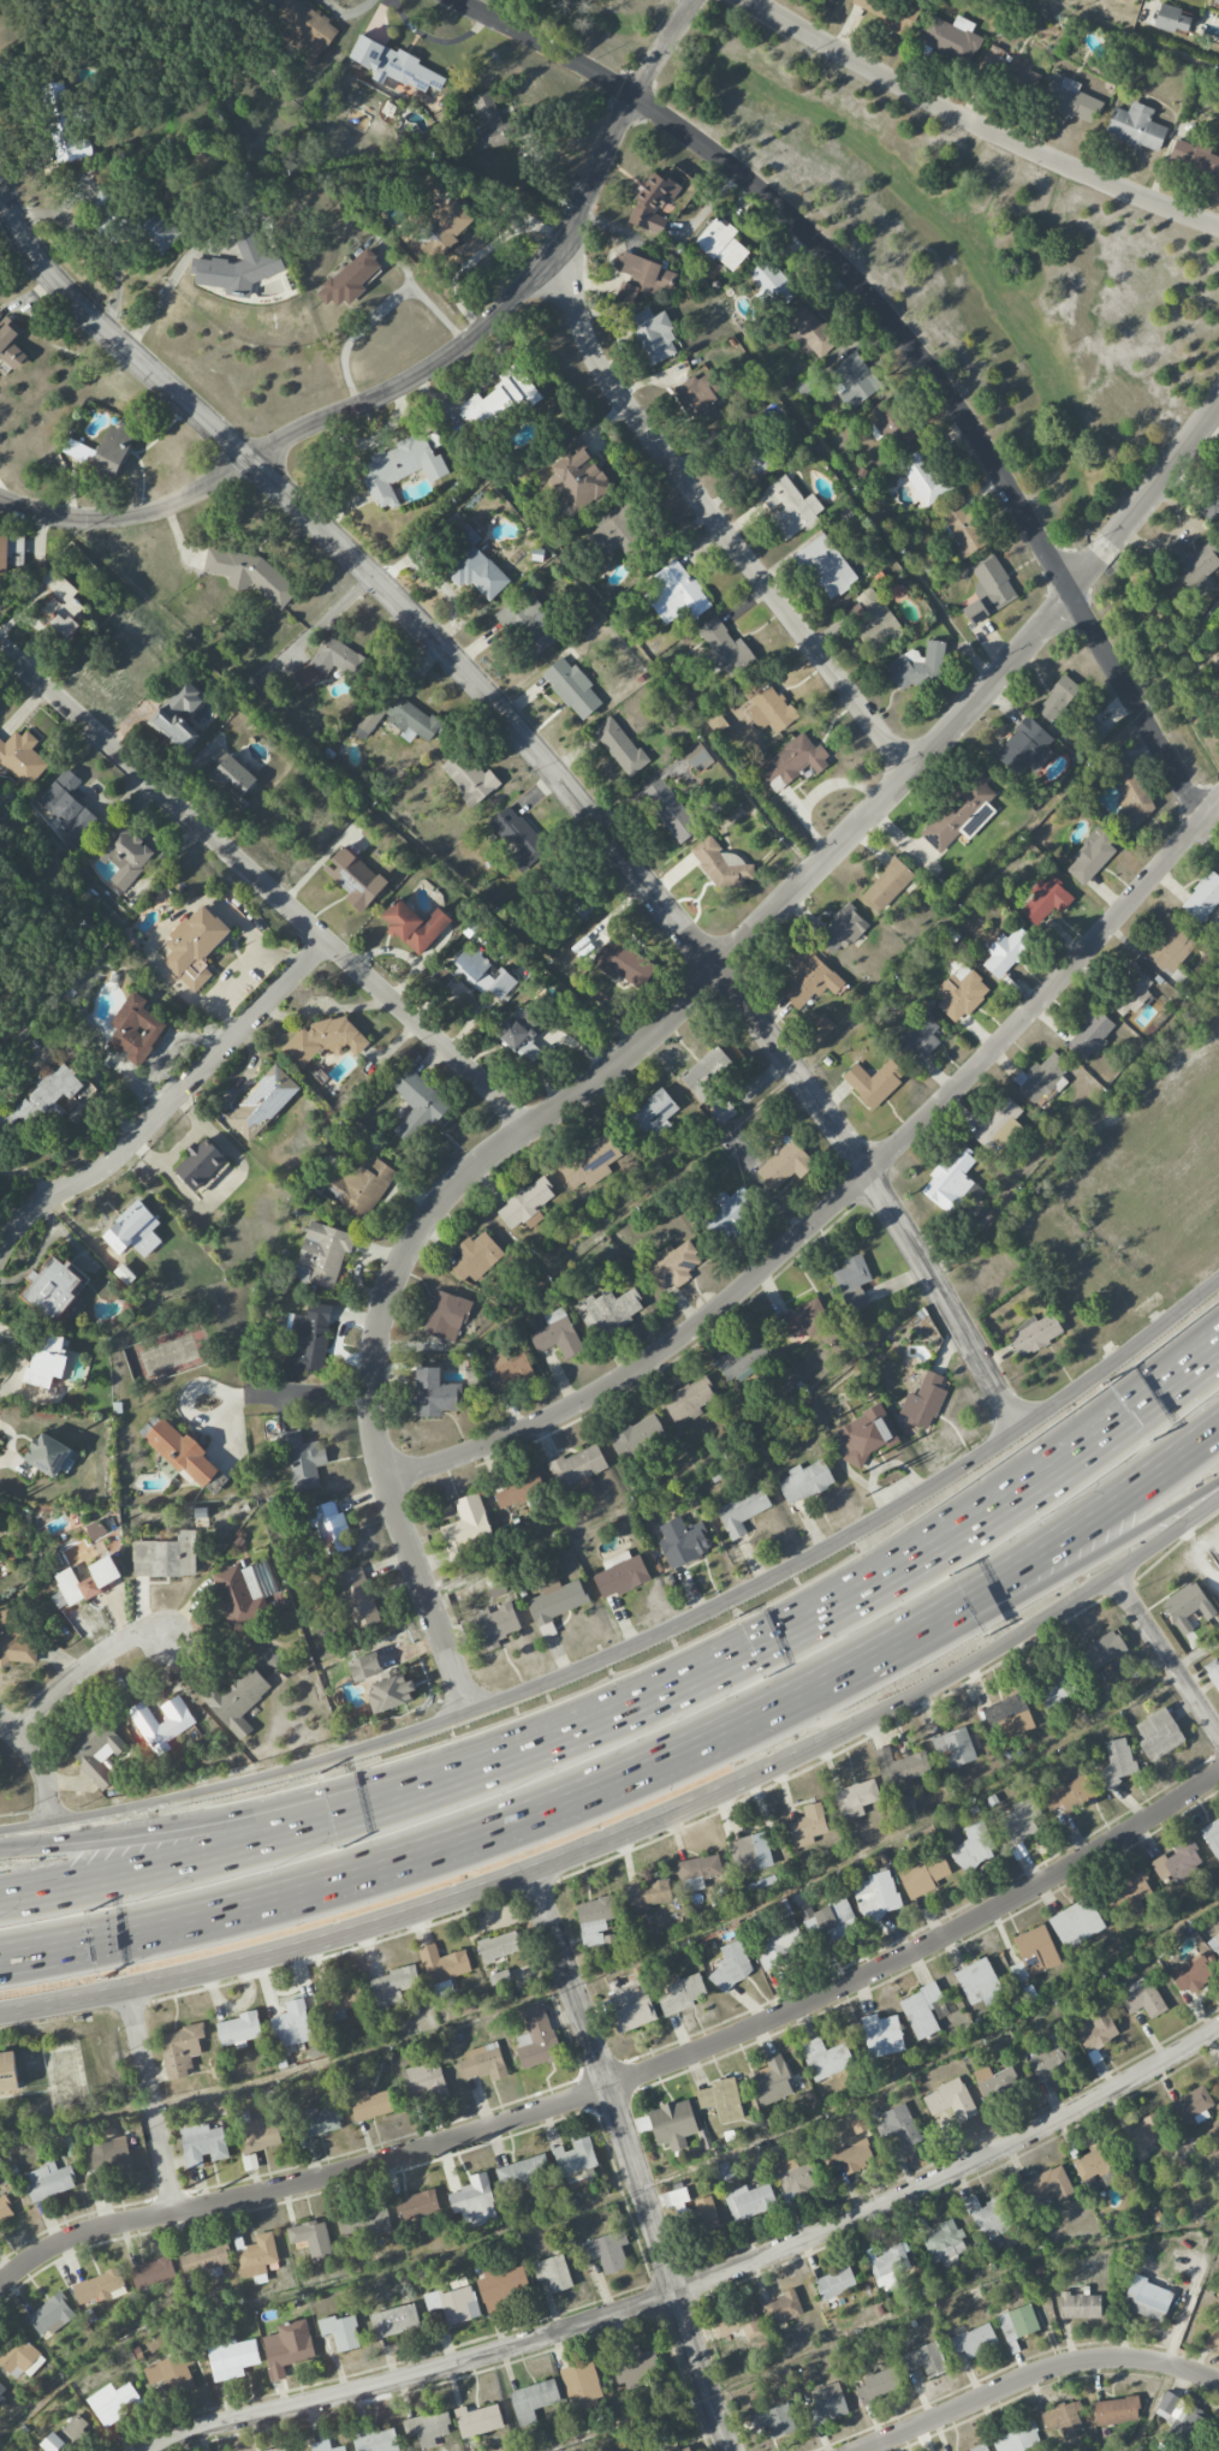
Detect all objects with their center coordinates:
building: (1172, 18)
building: (305, 26)
building: (950, 37)
building: (393, 66)
building: (1007, 69)
building: (1071, 100)
building: (489, 124)
road: (980, 125)
building: (61, 126)
building: (1135, 127)
building: (1195, 157)
building: (653, 203)
building: (107, 216)
building: (447, 225)
building: (156, 233)
building: (721, 244)
building: (238, 266)
building: (642, 278)
building: (350, 279)
road: (165, 288)
road: (422, 299)
building: (810, 332)
building: (653, 334)
road: (352, 335)
road: (903, 335)
building: (10, 344)
road: (426, 371)
building: (854, 381)
building: (807, 385)
building: (698, 399)
building: (496, 401)
building: (893, 426)
building: (113, 450)
building: (78, 451)
building: (757, 459)
building: (403, 466)
building: (577, 476)
building: (926, 478)
road: (704, 506)
building: (790, 507)
building: (963, 529)
building: (612, 531)
building: (1191, 564)
building: (475, 566)
building: (825, 566)
building: (251, 576)
building: (989, 591)
building: (676, 594)
building: (60, 603)
building: (873, 619)
building: (529, 625)
building: (724, 649)
building: (328, 661)
building: (916, 666)
building: (1218, 666)
building: (572, 688)
building: (1057, 698)
building: (766, 704)
building: (177, 716)
building: (398, 719)
building: (1094, 730)
building: (619, 745)
building: (1025, 748)
building: (697, 756)
building: (20, 757)
building: (791, 761)
road: (554, 769)
building: (227, 772)
building: (469, 777)
building: (1126, 790)
building: (66, 805)
building: (670, 810)
building: (961, 813)
building: (517, 837)
building: (124, 855)
building: (1090, 857)
building: (353, 878)
building: (888, 884)
road: (264, 887)
building: (1202, 897)
building: (1046, 900)
building: (582, 905)
building: (414, 926)
building: (842, 930)
building: (194, 946)
building: (1171, 946)
building: (1006, 951)
building: (624, 963)
building: (482, 974)
building: (808, 978)
building: (1130, 992)
building: (959, 993)
road: (661, 1025)
building: (821, 1025)
building: (135, 1029)
building: (1089, 1034)
building: (522, 1035)
building: (917, 1036)
building: (323, 1040)
building: (706, 1075)
building: (1042, 1076)
building: (874, 1082)
building: (42, 1100)
building: (262, 1102)
road: (170, 1105)
building: (417, 1106)
building: (649, 1117)
building: (998, 1124)
building: (589, 1162)
building: (200, 1164)
building: (785, 1165)
building: (950, 1180)
building: (359, 1184)
road: (845, 1195)
building: (525, 1204)
building: (730, 1212)
building: (133, 1231)
building: (325, 1253)
building: (476, 1256)
building: (673, 1265)
building: (852, 1281)
building: (52, 1289)
building: (608, 1311)
building: (446, 1316)
building: (804, 1319)
building: (1042, 1331)
building: (555, 1334)
building: (307, 1340)
building: (743, 1358)
building: (46, 1361)
road: (1181, 1367)
building: (509, 1370)
building: (434, 1393)
road: (239, 1396)
building: (688, 1399)
building: (928, 1400)
street lamp: (1197, 1404)
road: (222, 1430)
building: (873, 1433)
building: (636, 1435)
building: (186, 1446)
building: (48, 1454)
building: (309, 1458)
building: (576, 1465)
building: (810, 1477)
street lamp: (1200, 1480)
building: (519, 1491)
building: (749, 1506)
street lamp: (1041, 1516)
road: (868, 1523)
building: (334, 1525)
building: (466, 1525)
building: (95, 1530)
building: (686, 1537)
building: (172, 1553)
road: (1025, 1558)
building: (628, 1573)
street lamp: (1087, 1575)
building: (94, 1581)
street lamp: (1138, 1588)
building: (252, 1593)
road: (1025, 1594)
building: (364, 1596)
building: (563, 1596)
building: (1187, 1606)
building: (500, 1624)
building: (24, 1632)
street lamp: (846, 1635)
road: (772, 1637)
building: (1104, 1648)
building: (1218, 1652)
road: (987, 1653)
road: (1165, 1655)
road: (82, 1670)
building: (1213, 1671)
building: (392, 1678)
building: (1054, 1686)
building: (243, 1695)
building: (1009, 1717)
building: (167, 1718)
street lamp: (677, 1720)
building: (1158, 1733)
building: (103, 1747)
building: (955, 1747)
building: (1117, 1763)
road: (40, 1769)
building: (900, 1771)
road: (248, 1789)
street lamp: (501, 1792)
building: (1066, 1793)
street lamp: (264, 1795)
building: (855, 1798)
street lamp: (127, 1816)
building: (1019, 1820)
building: (807, 1825)
building: (1211, 1836)
road: (138, 1842)
building: (974, 1848)
building: (751, 1851)
road: (423, 1854)
building: (1178, 1862)
building: (700, 1867)
road: (139, 1868)
street lamp: (273, 1868)
building: (923, 1876)
road: (486, 1887)
building: (648, 1893)
building: (1131, 1893)
building: (876, 1894)
street lamp: (136, 1900)
building: (593, 1918)
building: (829, 1923)
building: (1076, 1923)
building: (778, 1945)
building: (496, 1946)
building: (1034, 1953)
road: (638, 1957)
building: (442, 1963)
building: (731, 1965)
building: (1194, 1974)
building: (979, 1982)
building: (393, 1986)
road: (111, 1992)
building: (682, 1994)
building: (339, 1998)
building: (1141, 1998)
building: (630, 2004)
building: (921, 2011)
building: (291, 2024)
building: (239, 2028)
building: (1095, 2029)
building: (881, 2035)
building: (536, 2037)
building: (179, 2047)
building: (1049, 2057)
building: (826, 2058)
building: (483, 2062)
building: (14, 2069)
building: (1218, 2074)
road: (629, 2080)
building: (771, 2081)
building: (423, 2082)
building: (997, 2083)
building: (721, 2100)
building: (950, 2100)
road: (151, 2101)
building: (370, 2104)
building: (1191, 2105)
building: (316, 2122)
building: (898, 2126)
building: (260, 2135)
building: (1144, 2135)
building: (202, 2144)
building: (849, 2155)
building: (109, 2156)
building: (576, 2160)
road: (632, 2160)
building: (1094, 2161)
building: (721, 2172)
building: (524, 2173)
building: (796, 2177)
building: (48, 2181)
building: (1048, 2184)
road: (616, 2196)
building: (749, 2201)
building: (474, 2202)
building: (416, 2205)
building: (5, 2209)
building: (692, 2209)
building: (992, 2220)
building: (364, 2223)
building: (311, 2238)
building: (944, 2242)
building: (606, 2251)
building: (256, 2254)
building: (204, 2261)
building: (890, 2267)
building: (153, 2272)
building: (552, 2272)
road: (702, 2279)
building: (836, 2284)
building: (99, 2286)
building: (503, 2286)
road: (1189, 2297)
building: (1148, 2298)
building: (453, 2304)
building: (1080, 2306)
building: (781, 2308)
building: (50, 2315)
building: (396, 2320)
building: (1017, 2322)
building: (736, 2324)
road: (875, 2325)
building: (341, 2332)
building: (1213, 2337)
building: (974, 2340)
building: (287, 2346)
building: (19, 2356)
building: (231, 2357)
building: (924, 2360)
building: (635, 2366)
road: (1031, 2374)
building: (167, 2375)
building: (582, 2385)
building: (878, 2385)
building: (2, 2390)
building: (533, 2401)
building: (113, 2403)
building: (827, 2404)
building: (1167, 2407)
building: (1116, 2410)
road: (1144, 2414)
building: (477, 2420)
building: (1063, 2420)
building: (1188, 2425)
building: (428, 2428)
building: (75, 2434)
building: (375, 2439)
building: (1017, 2439)
building: (52, 2443)
building: (325, 2446)
building: (670, 2447)
building: (276, 2449)
building: (980, 2450)

